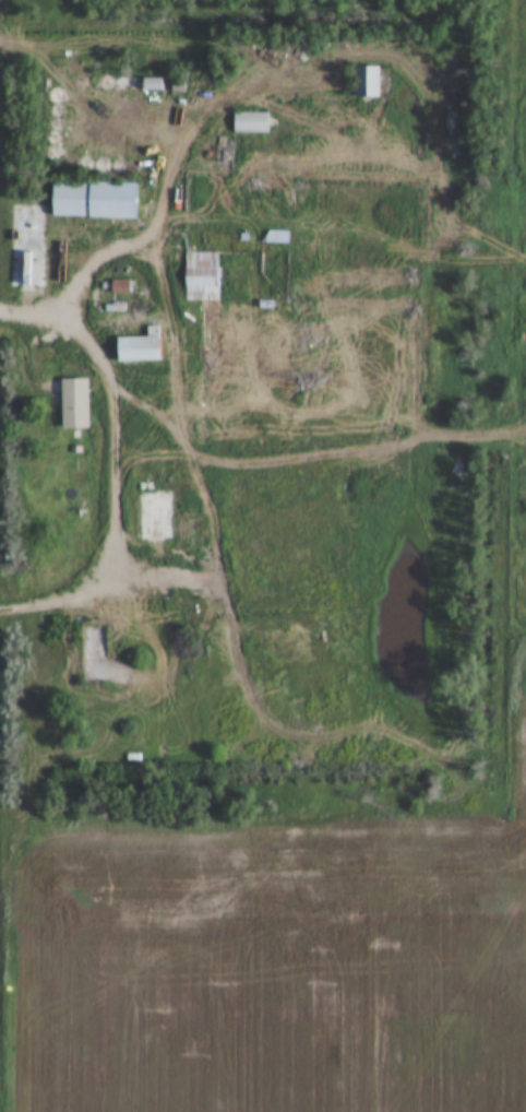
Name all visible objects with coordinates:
building: (83, 82)
silo: (83, 82)
building: (371, 82)
building: (108, 83)
silo: (108, 83)
building: (123, 84)
silo: (123, 84)
building: (138, 84)
silo: (138, 84)
building: (159, 84)
building: (183, 84)
building: (211, 84)
silo: (211, 84)
building: (196, 85)
silo: (196, 85)
building: (59, 96)
silo: (59, 96)
building: (186, 99)
silo: (186, 99)
building: (59, 111)
silo: (59, 111)
building: (254, 122)
building: (58, 125)
silo: (58, 125)
building: (147, 135)
silo: (147, 135)
building: (56, 138)
silo: (56, 138)
building: (57, 153)
silo: (57, 153)
building: (86, 166)
silo: (86, 166)
building: (106, 166)
silo: (106, 166)
building: (71, 167)
silo: (71, 167)
building: (136, 168)
silo: (136, 168)
building: (122, 169)
silo: (122, 169)
building: (268, 185)
building: (104, 200)
road: (152, 210)
building: (278, 237)
building: (247, 238)
building: (35, 245)
building: (267, 304)
building: (211, 307)
building: (146, 347)
building: (310, 347)
road: (175, 348)
building: (81, 403)
road: (342, 452)
road: (123, 465)
building: (153, 516)
building: (92, 654)

